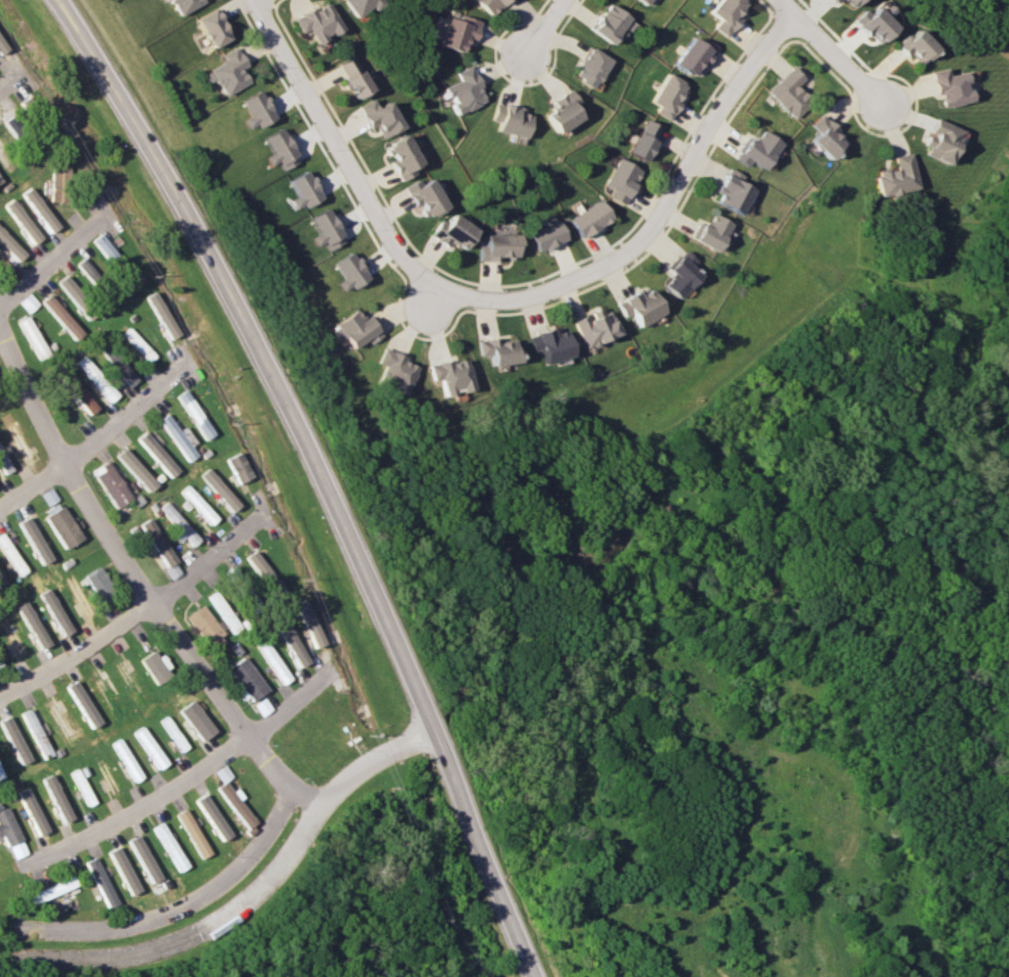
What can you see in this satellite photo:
road: (252, 0)
building: (644, 1)
building: (831, 1)
building: (848, 2)
building: (183, 5)
building: (488, 5)
building: (359, 6)
road: (784, 6)
building: (727, 14)
building: (317, 22)
building: (608, 23)
building: (873, 23)
building: (211, 28)
building: (456, 30)
road: (541, 30)
building: (2, 46)
building: (914, 46)
building: (696, 54)
road: (839, 61)
building: (590, 67)
building: (227, 72)
building: (352, 77)
road: (11, 80)
building: (948, 87)
building: (463, 90)
building: (789, 92)
building: (669, 95)
building: (255, 109)
building: (561, 111)
building: (377, 117)
building: (509, 119)
building: (825, 136)
building: (644, 140)
building: (939, 140)
building: (278, 149)
road: (336, 149)
building: (758, 149)
building: (400, 156)
building: (895, 176)
building: (0, 180)
building: (622, 180)
building: (59, 184)
building: (301, 190)
building: (732, 191)
building: (423, 196)
building: (39, 209)
building: (589, 218)
road: (654, 219)
building: (22, 220)
building: (324, 229)
building: (453, 231)
building: (712, 231)
building: (547, 233)
building: (10, 245)
building: (498, 246)
building: (105, 247)
road: (55, 255)
building: (87, 269)
building: (348, 271)
building: (679, 274)
road: (431, 303)
building: (639, 306)
building: (162, 315)
building: (61, 316)
building: (594, 327)
building: (356, 329)
building: (31, 336)
building: (137, 344)
building: (550, 344)
building: (498, 350)
building: (115, 363)
building: (395, 370)
building: (451, 375)
building: (94, 378)
building: (74, 391)
building: (192, 414)
road: (98, 433)
building: (16, 436)
building: (174, 436)
building: (154, 454)
building: (237, 467)
building: (133, 469)
road: (326, 471)
building: (109, 484)
building: (217, 489)
building: (195, 504)
building: (177, 523)
building: (62, 527)
building: (34, 540)
building: (156, 542)
road: (139, 577)
building: (2, 580)
building: (99, 585)
building: (79, 595)
building: (222, 610)
building: (55, 611)
road: (144, 617)
building: (307, 622)
building: (33, 624)
building: (205, 627)
building: (14, 635)
building: (290, 643)
building: (271, 660)
building: (155, 666)
building: (246, 678)
building: (130, 683)
building: (107, 696)
building: (83, 703)
building: (61, 721)
building: (37, 733)
building: (14, 739)
building: (149, 747)
road: (190, 775)
building: (0, 776)
building: (108, 778)
building: (81, 786)
building: (56, 797)
building: (234, 804)
building: (31, 811)
building: (211, 816)
building: (7, 827)
building: (191, 833)
building: (168, 846)
building: (142, 858)
building: (122, 870)
building: (99, 882)
building: (48, 889)
road: (243, 898)
road: (183, 904)

